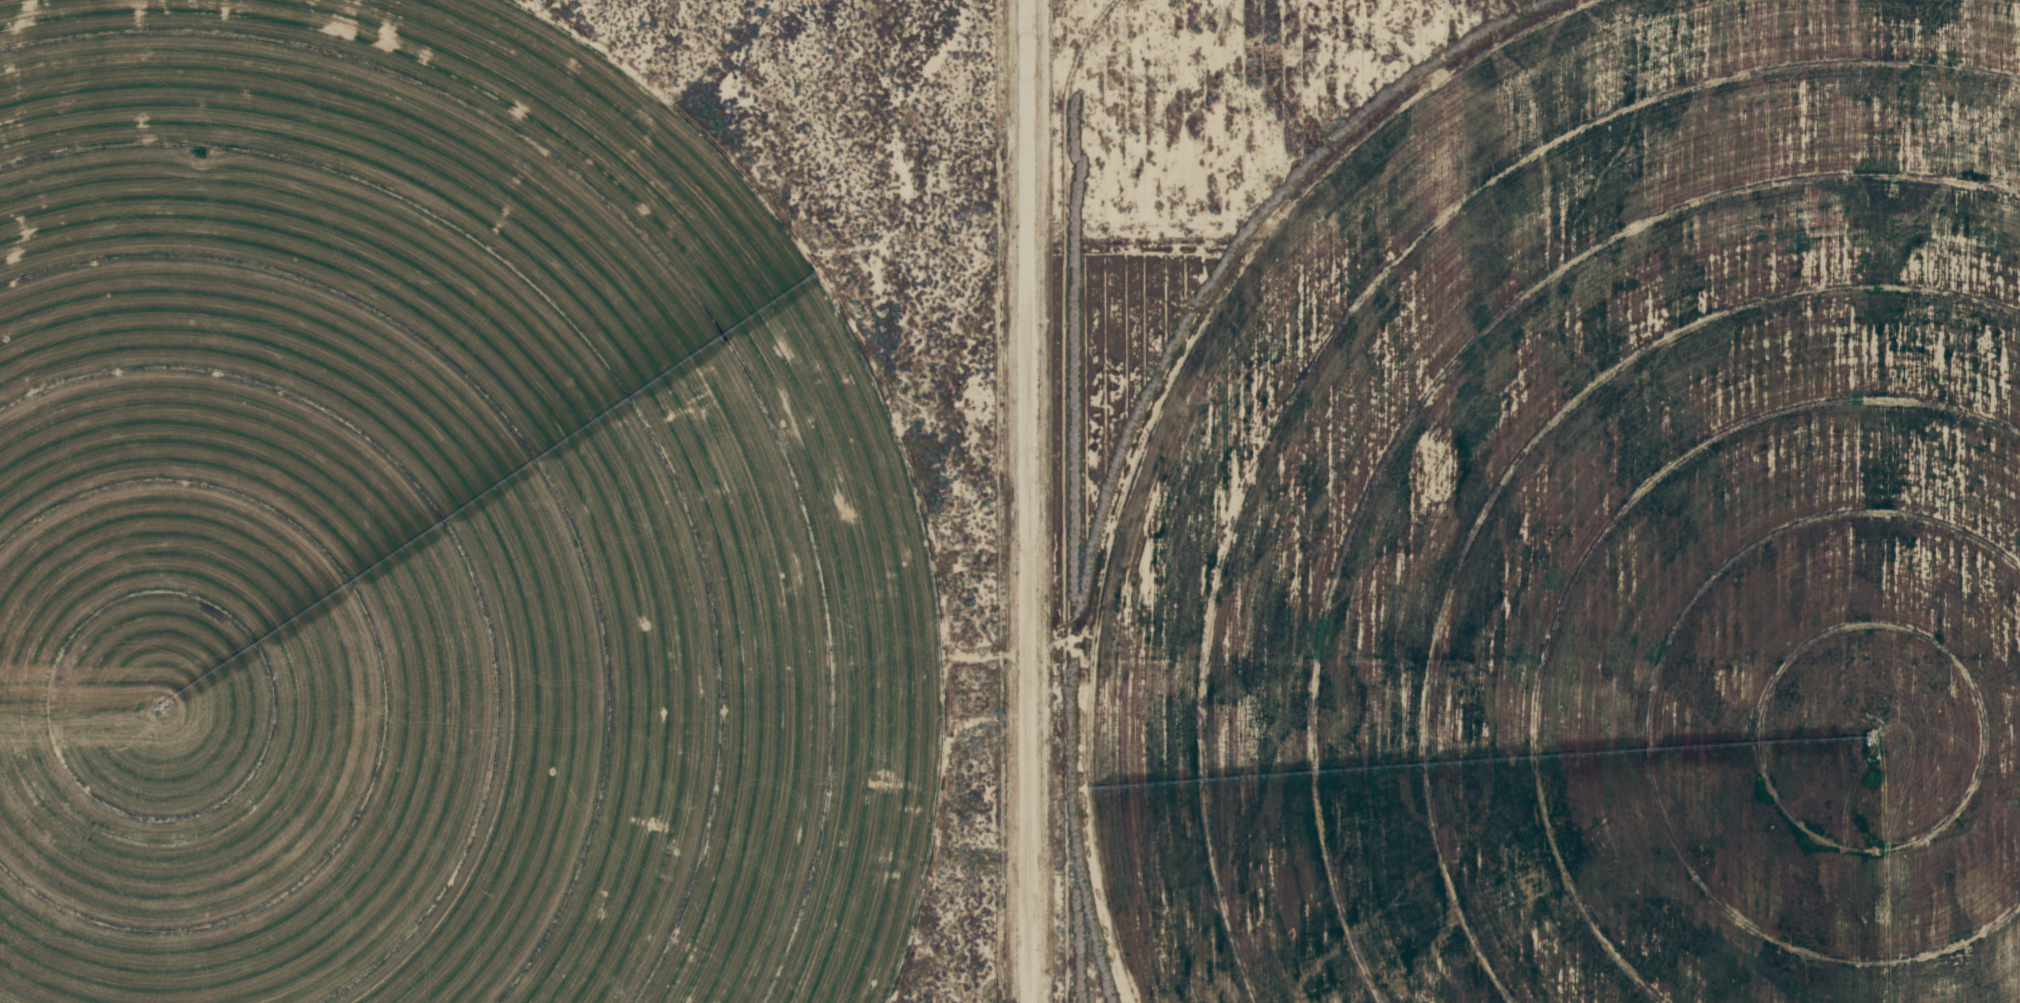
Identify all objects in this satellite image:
road: (995, 501)
crop: (436, 529)
crop: (1596, 540)

